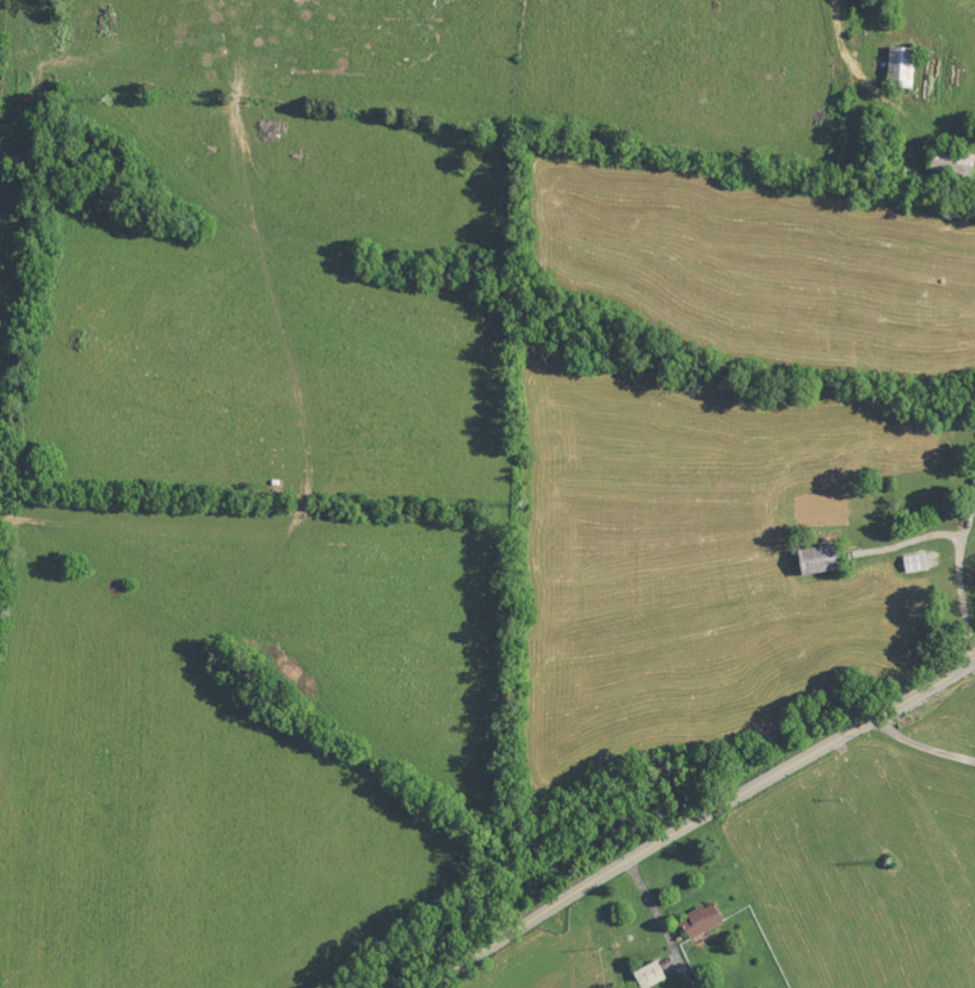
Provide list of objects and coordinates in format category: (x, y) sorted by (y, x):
building: (901, 68)
power tower: (109, 97)
building: (953, 164)
building: (974, 481)
power tower: (528, 503)
building: (819, 560)
building: (916, 563)
road: (923, 744)
road: (697, 820)
power tower: (894, 862)
building: (702, 920)
building: (650, 975)

